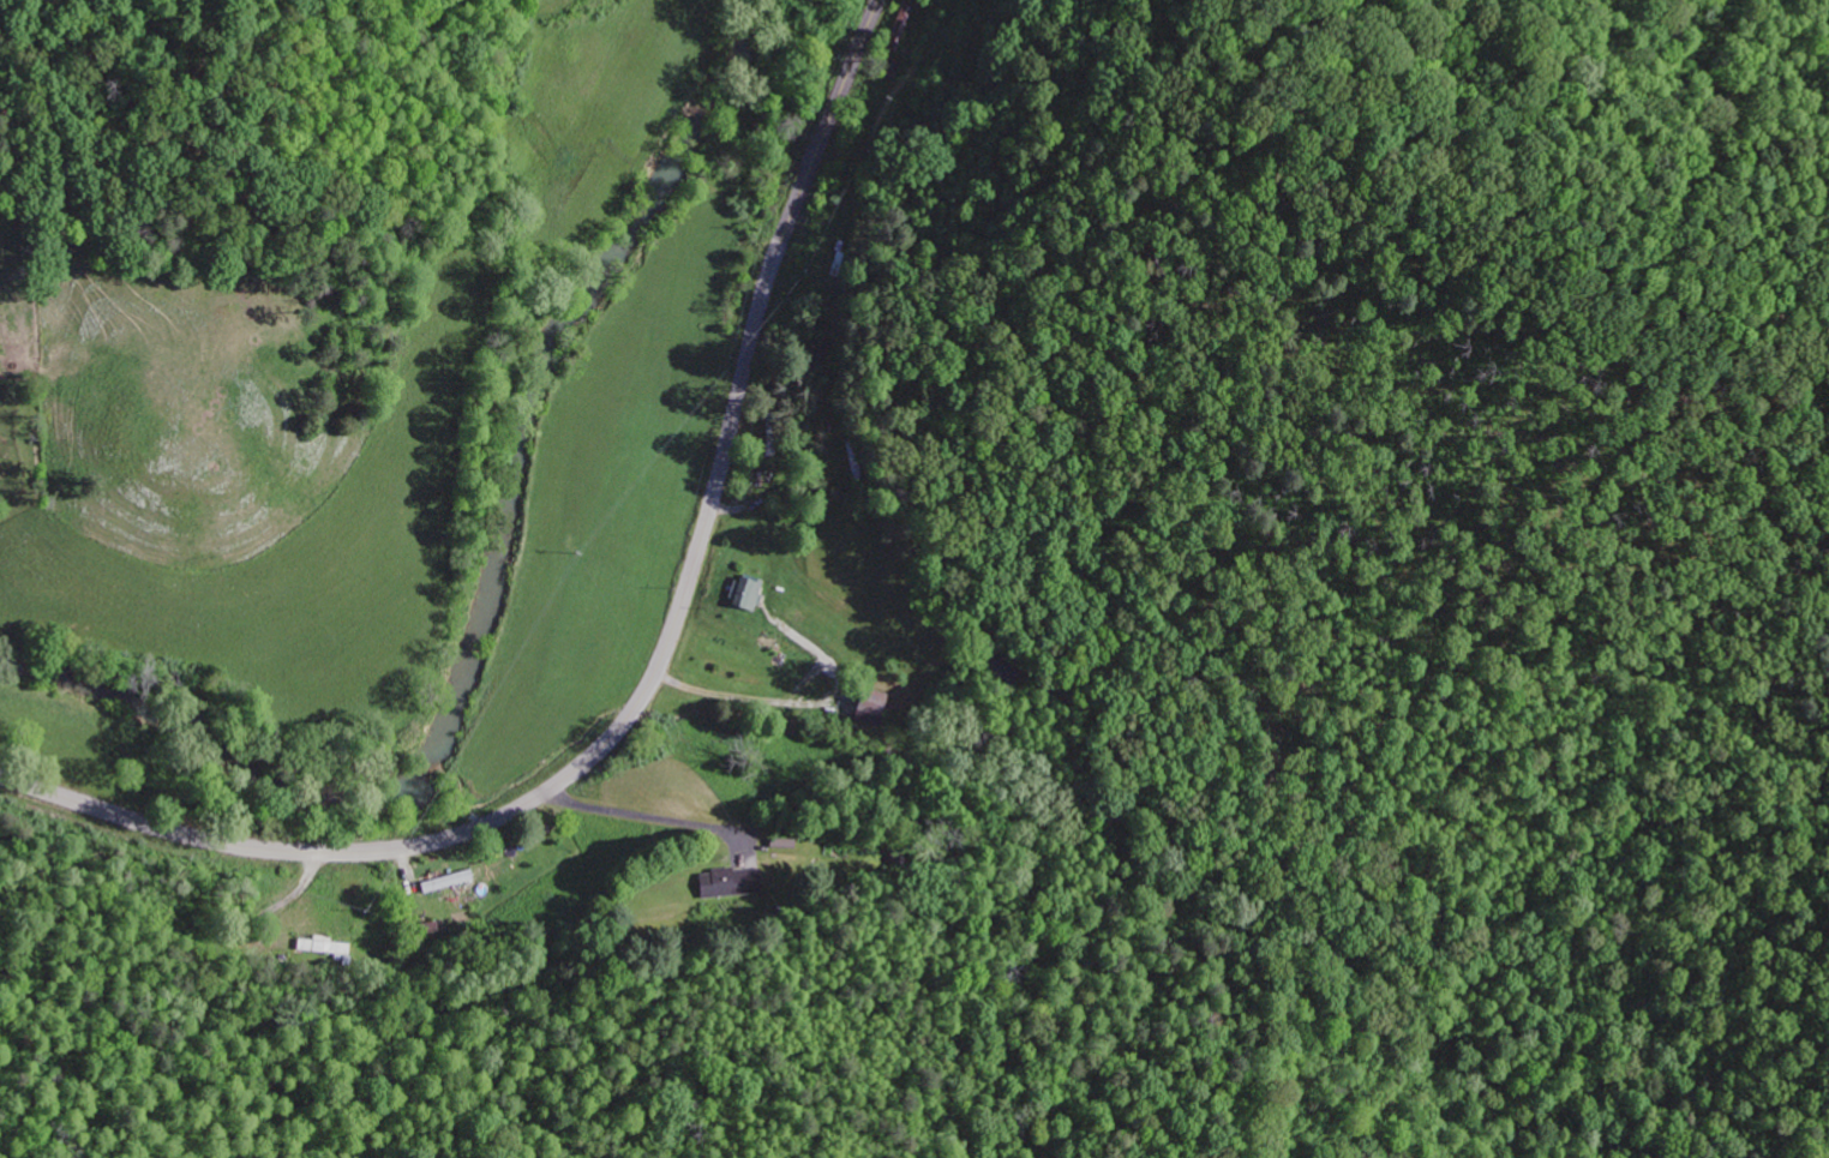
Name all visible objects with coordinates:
building: (744, 596)
road: (649, 680)
building: (869, 709)
road: (643, 816)
building: (728, 886)
road: (287, 899)

